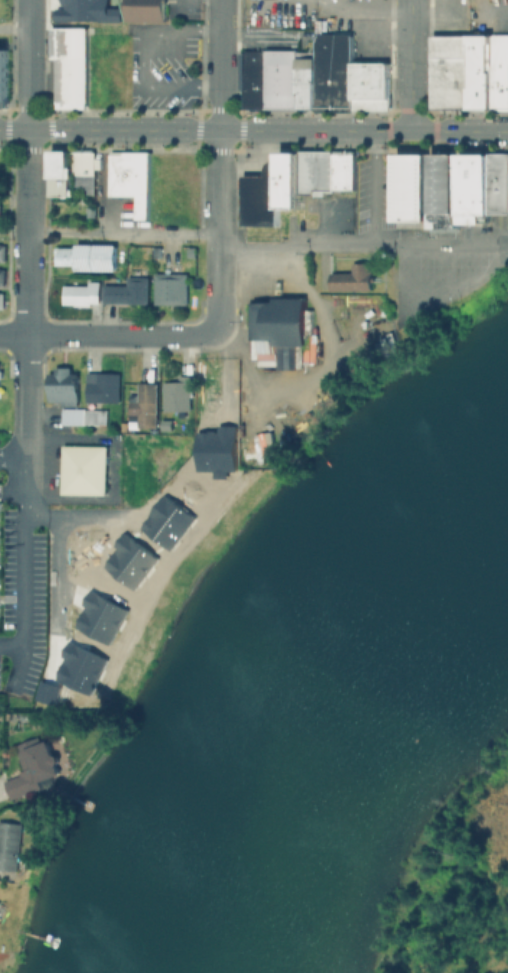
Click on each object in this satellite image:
road: (194, 8)
parking lot: (195, 9)
building: (87, 10)
building: (144, 10)
road: (363, 11)
parking lot: (492, 12)
parking lot: (278, 13)
road: (493, 13)
road: (13, 29)
road: (254, 40)
road: (141, 60)
road: (409, 65)
building: (70, 66)
parking lot: (162, 67)
building: (333, 71)
building: (449, 71)
building: (480, 71)
building: (500, 71)
building: (3, 78)
building: (280, 78)
building: (253, 81)
building: (306, 84)
building: (369, 87)
road: (219, 125)
road: (254, 130)
building: (82, 170)
building: (315, 170)
building: (342, 170)
building: (60, 171)
building: (129, 178)
building: (290, 180)
building: (498, 183)
building: (412, 186)
building: (473, 186)
road: (373, 187)
road: (25, 190)
building: (444, 190)
parking lot: (374, 191)
building: (261, 196)
building: (0, 213)
road: (108, 232)
road: (362, 245)
building: (1, 252)
building: (86, 256)
parking lot: (459, 257)
building: (1, 275)
building: (352, 279)
building: (170, 287)
building: (126, 290)
building: (80, 293)
road: (441, 297)
building: (0, 299)
building: (279, 321)
road: (146, 335)
road: (320, 374)
building: (63, 386)
building: (103, 388)
building: (177, 394)
building: (144, 405)
building: (72, 416)
road: (23, 433)
building: (219, 445)
road: (11, 462)
building: (85, 470)
road: (72, 513)
building: (171, 519)
building: (134, 556)
road: (23, 587)
road: (56, 591)
building: (104, 612)
road: (12, 646)
building: (83, 663)
building: (49, 687)
building: (32, 768)
pier: (76, 802)
pier: (85, 806)
building: (9, 845)
pier: (34, 935)

